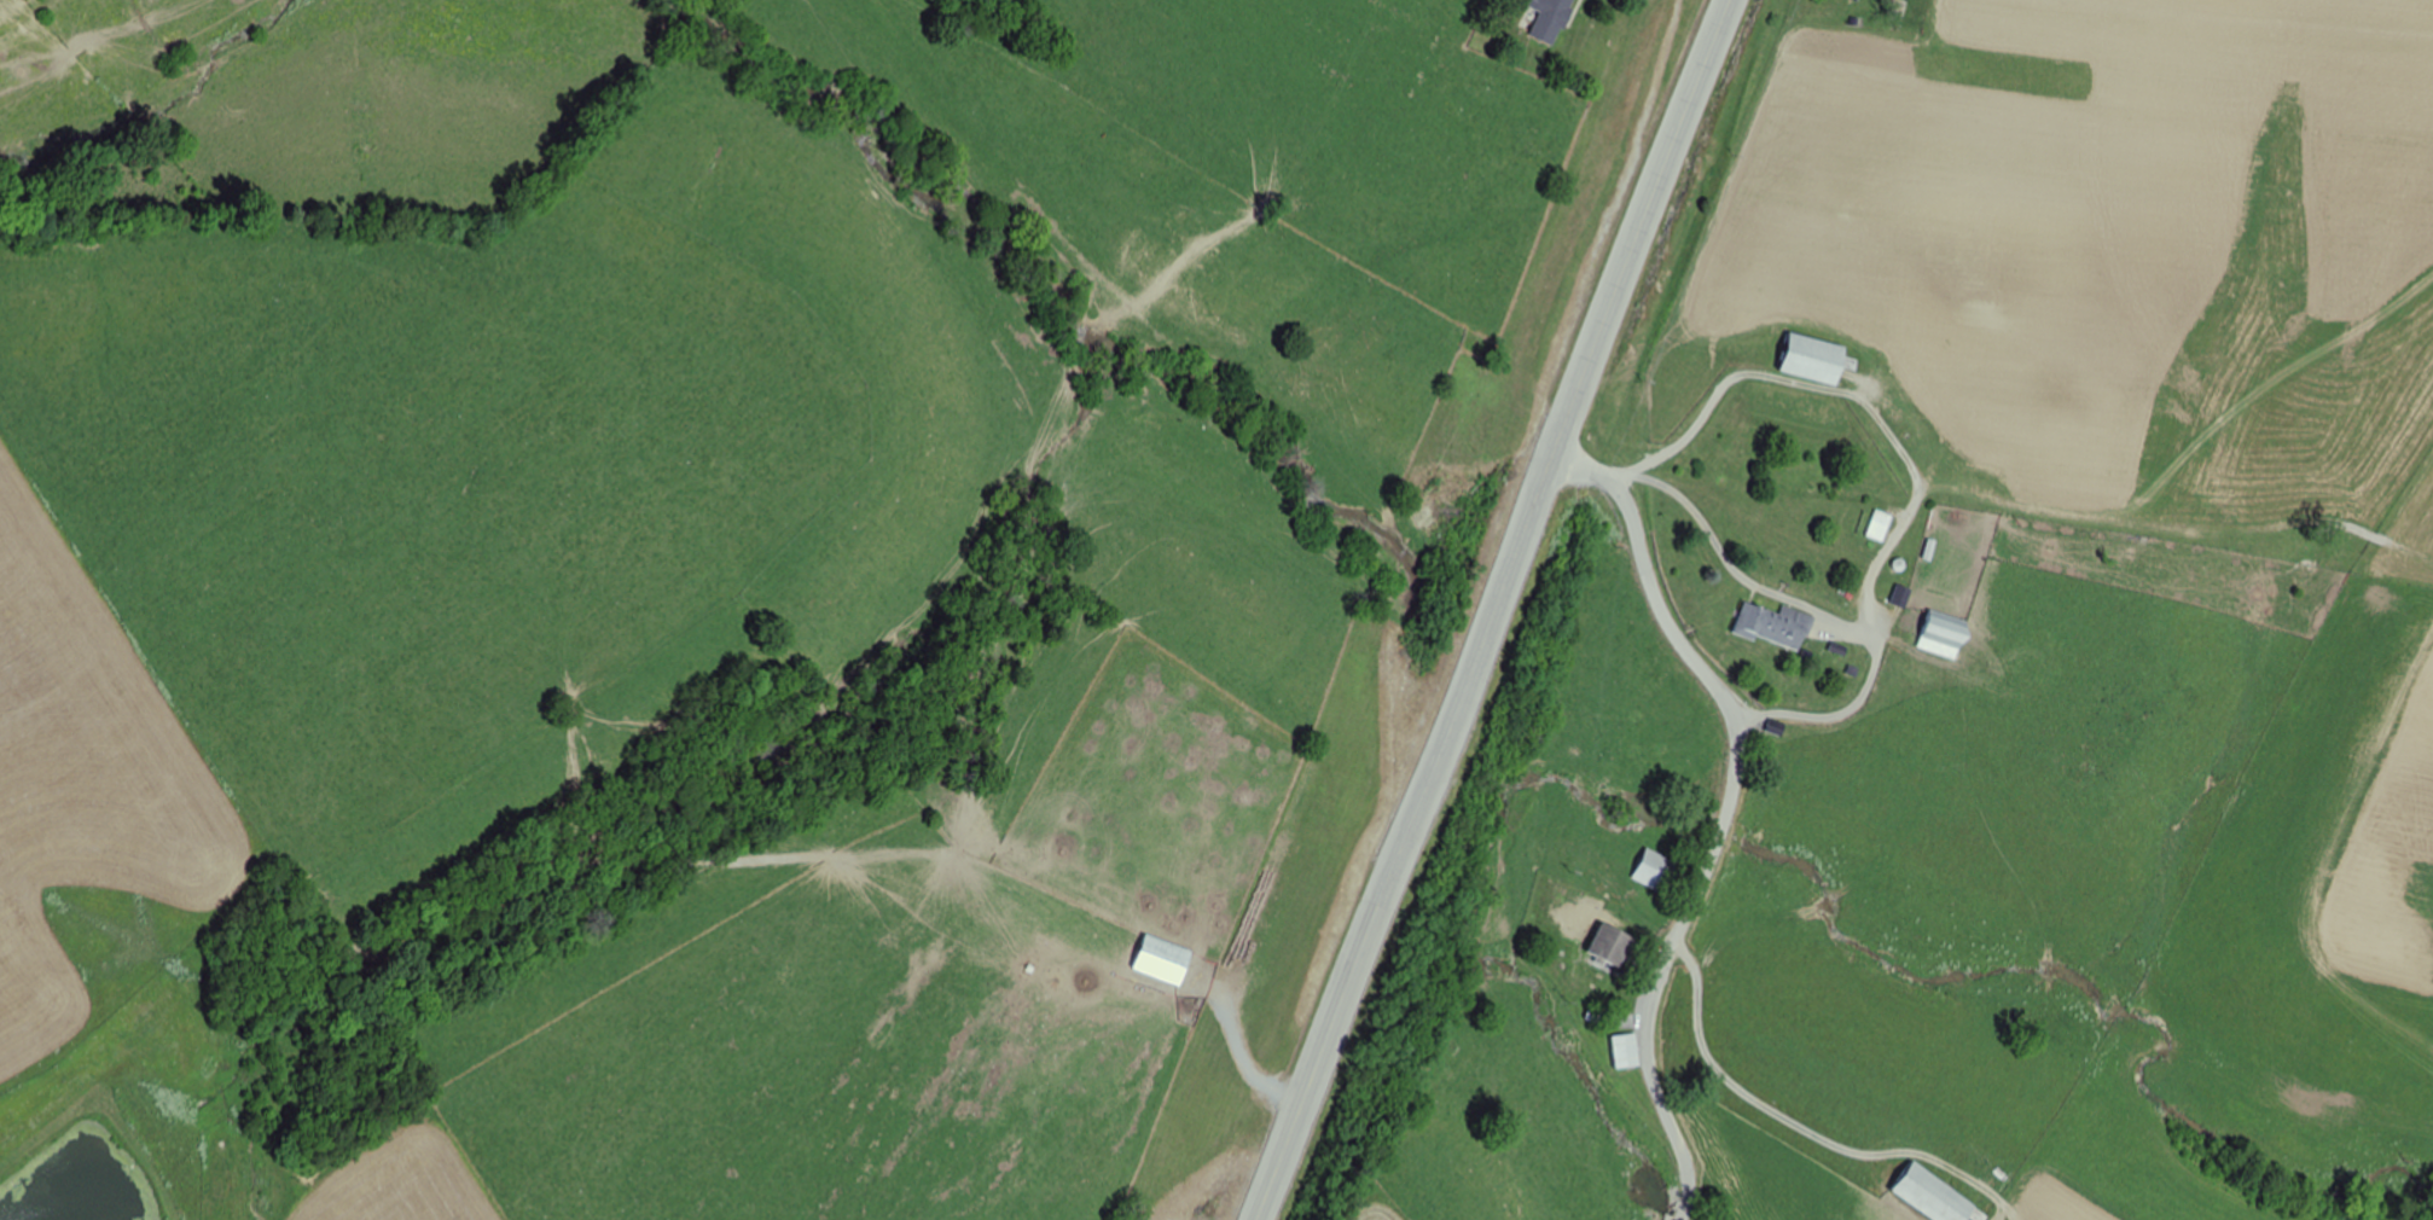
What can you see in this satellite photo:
building: (1859, 0)
building: (1554, 18)
building: (1817, 358)
building: (1882, 525)
road: (1491, 609)
building: (1778, 626)
building: (1946, 633)
road: (1684, 640)
building: (1656, 870)
building: (1613, 945)
building: (1163, 960)
road: (1654, 1040)
building: (1628, 1051)
building: (1935, 1196)

